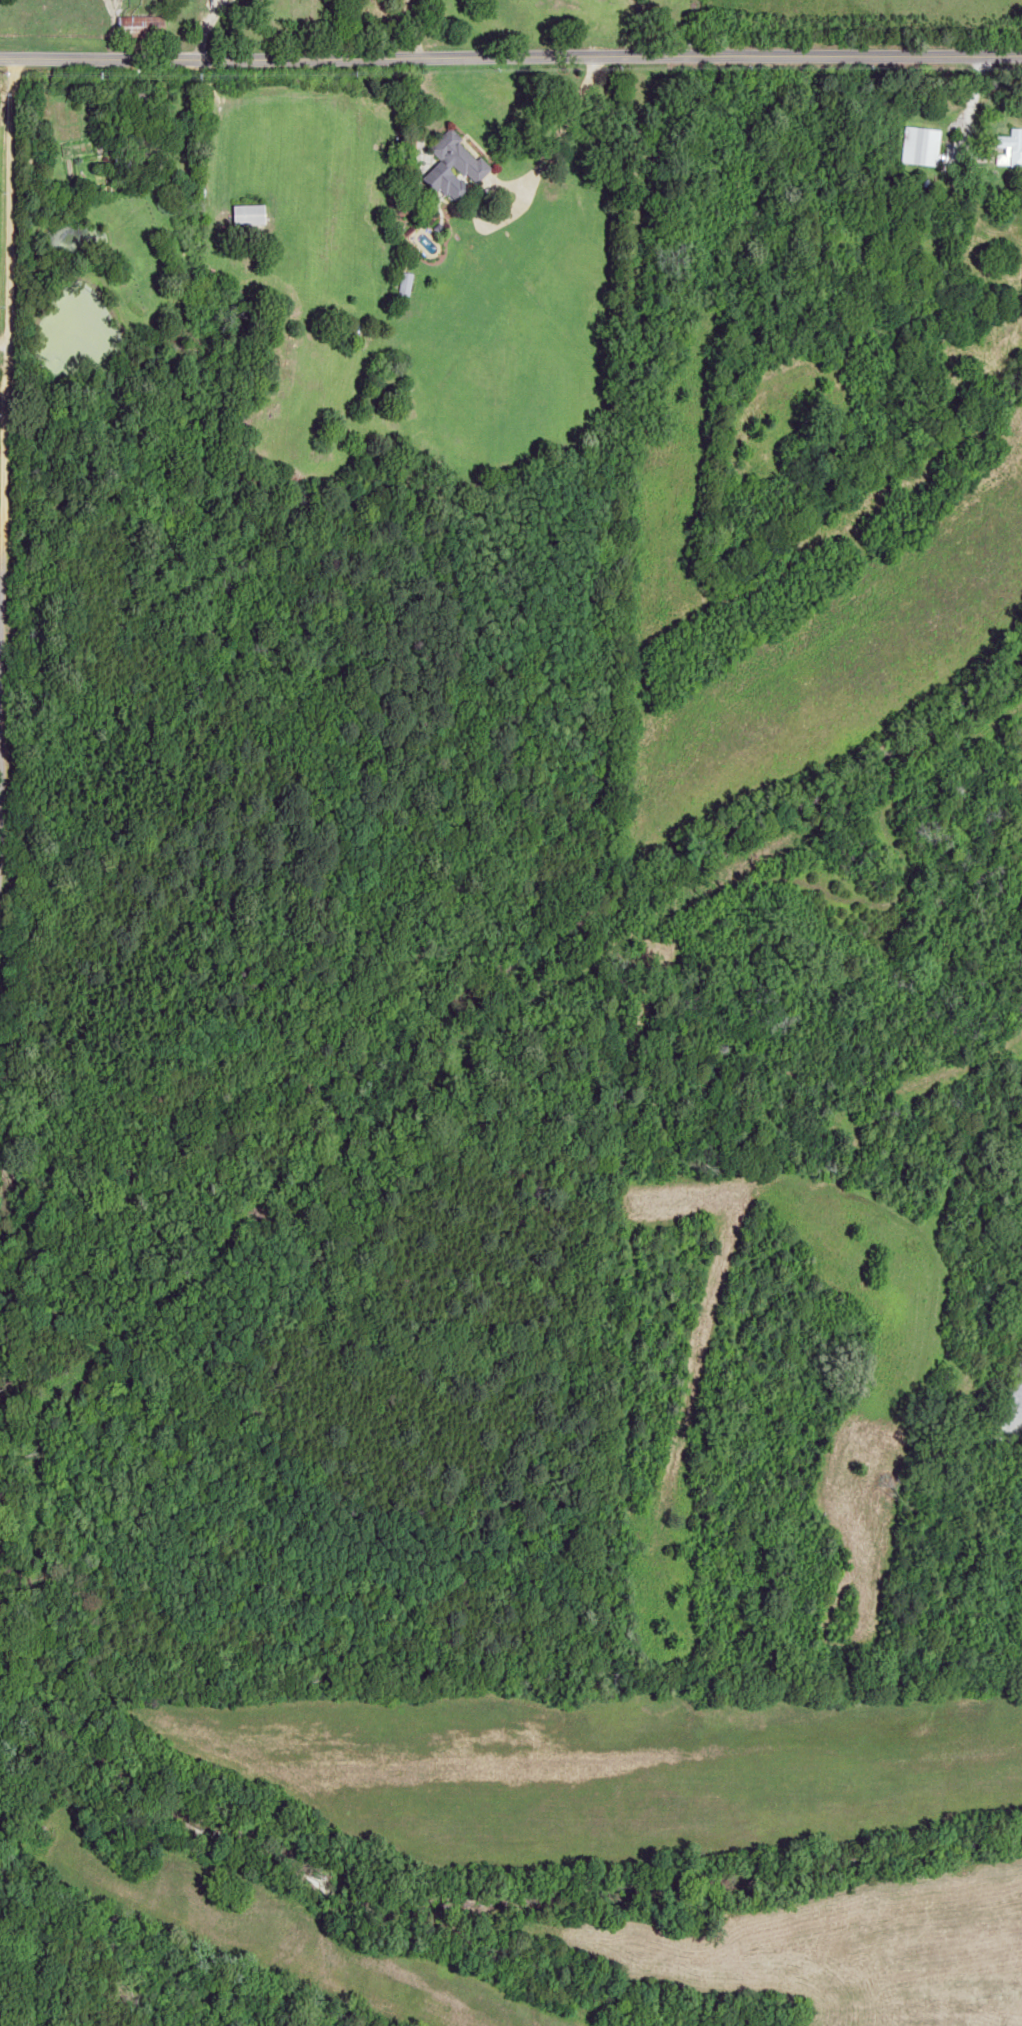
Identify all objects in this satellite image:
building: (140, 26)
road: (511, 54)
building: (925, 145)
building: (1010, 146)
building: (455, 166)
building: (247, 214)
road: (3, 278)
building: (404, 283)

